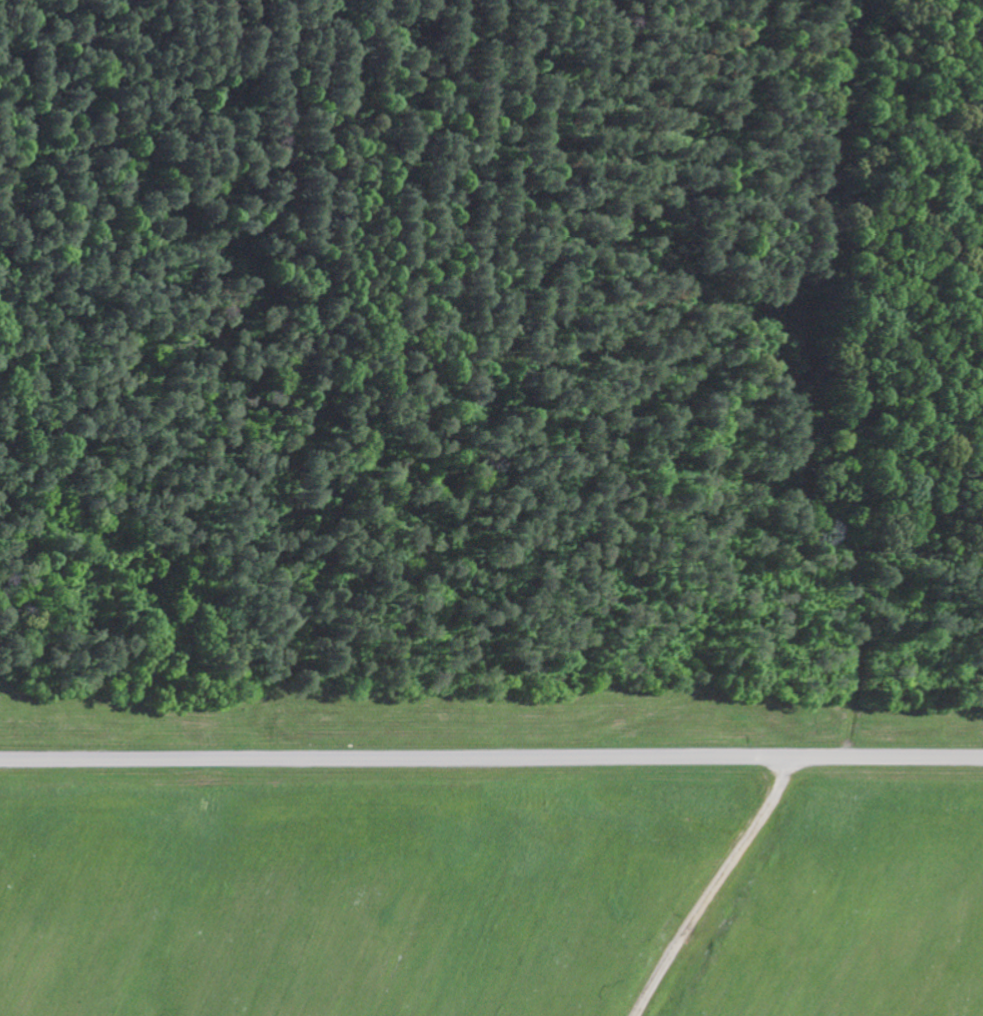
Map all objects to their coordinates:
road: (491, 761)

